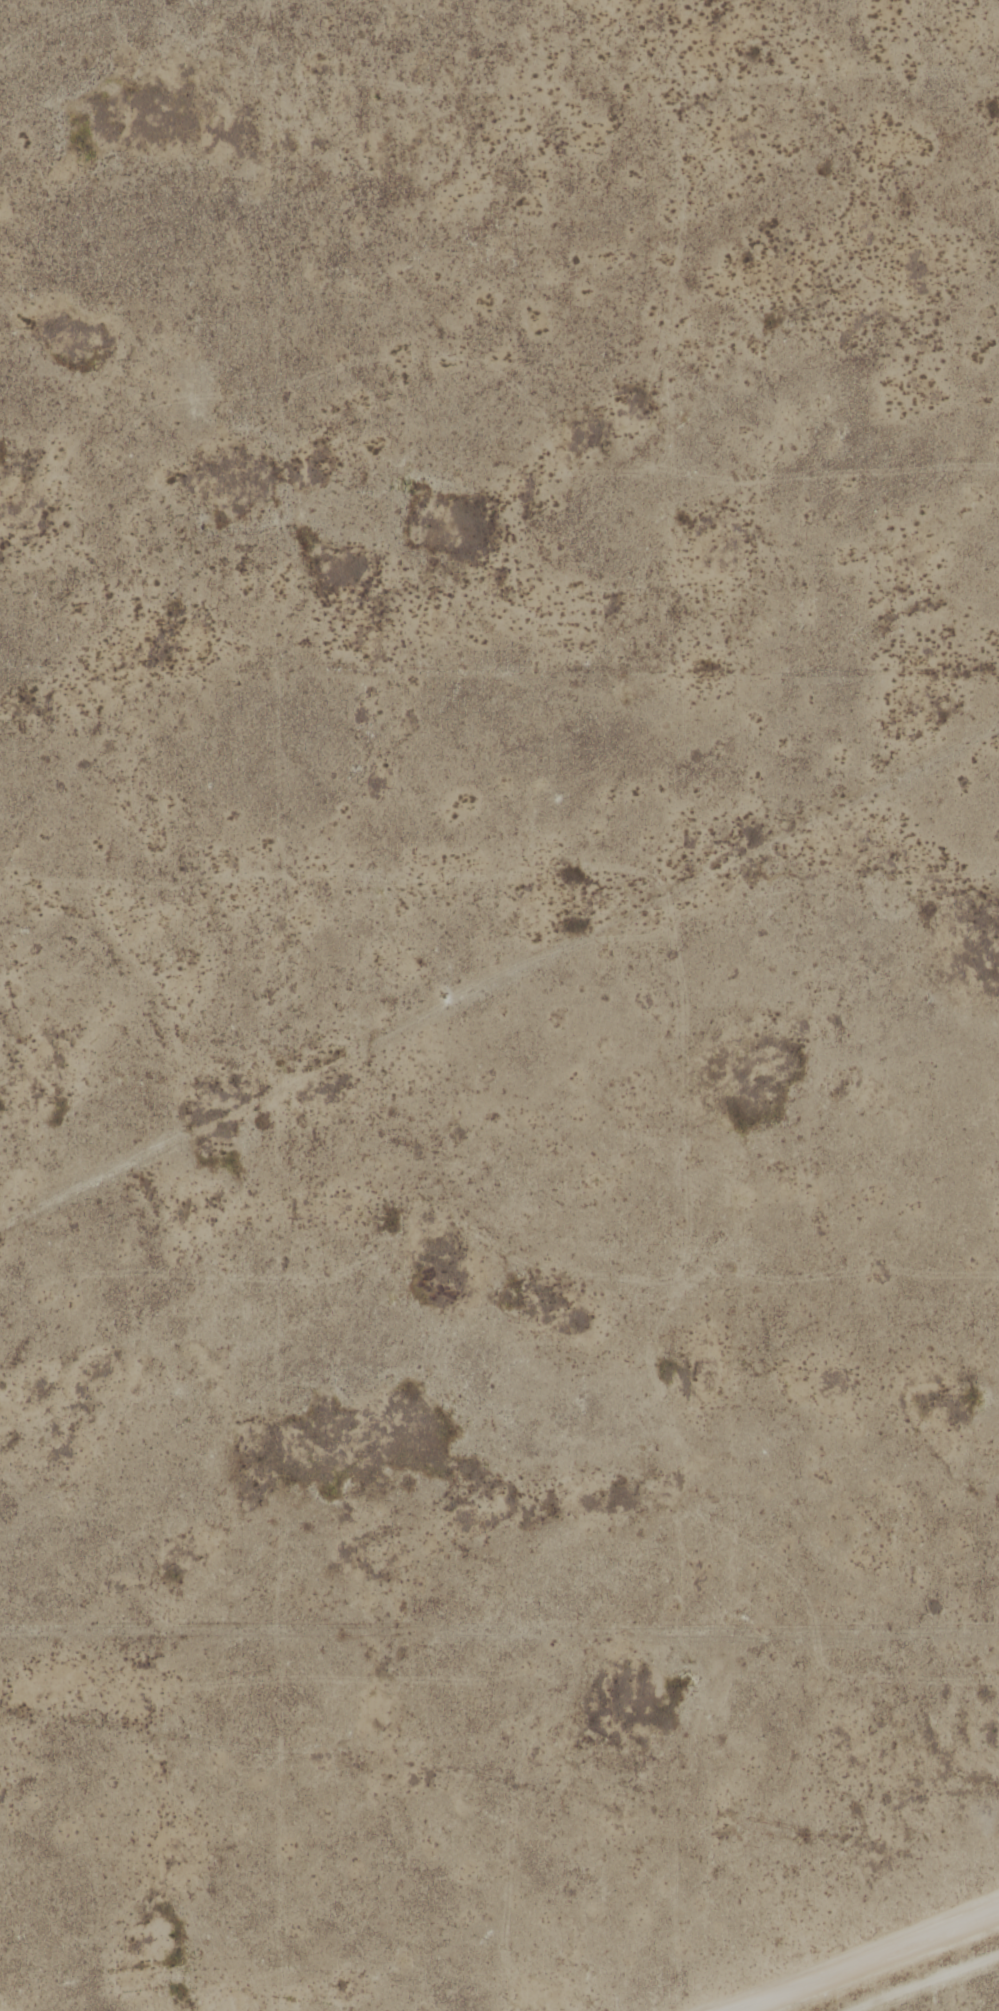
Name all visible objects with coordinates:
road: (852, 1956)

